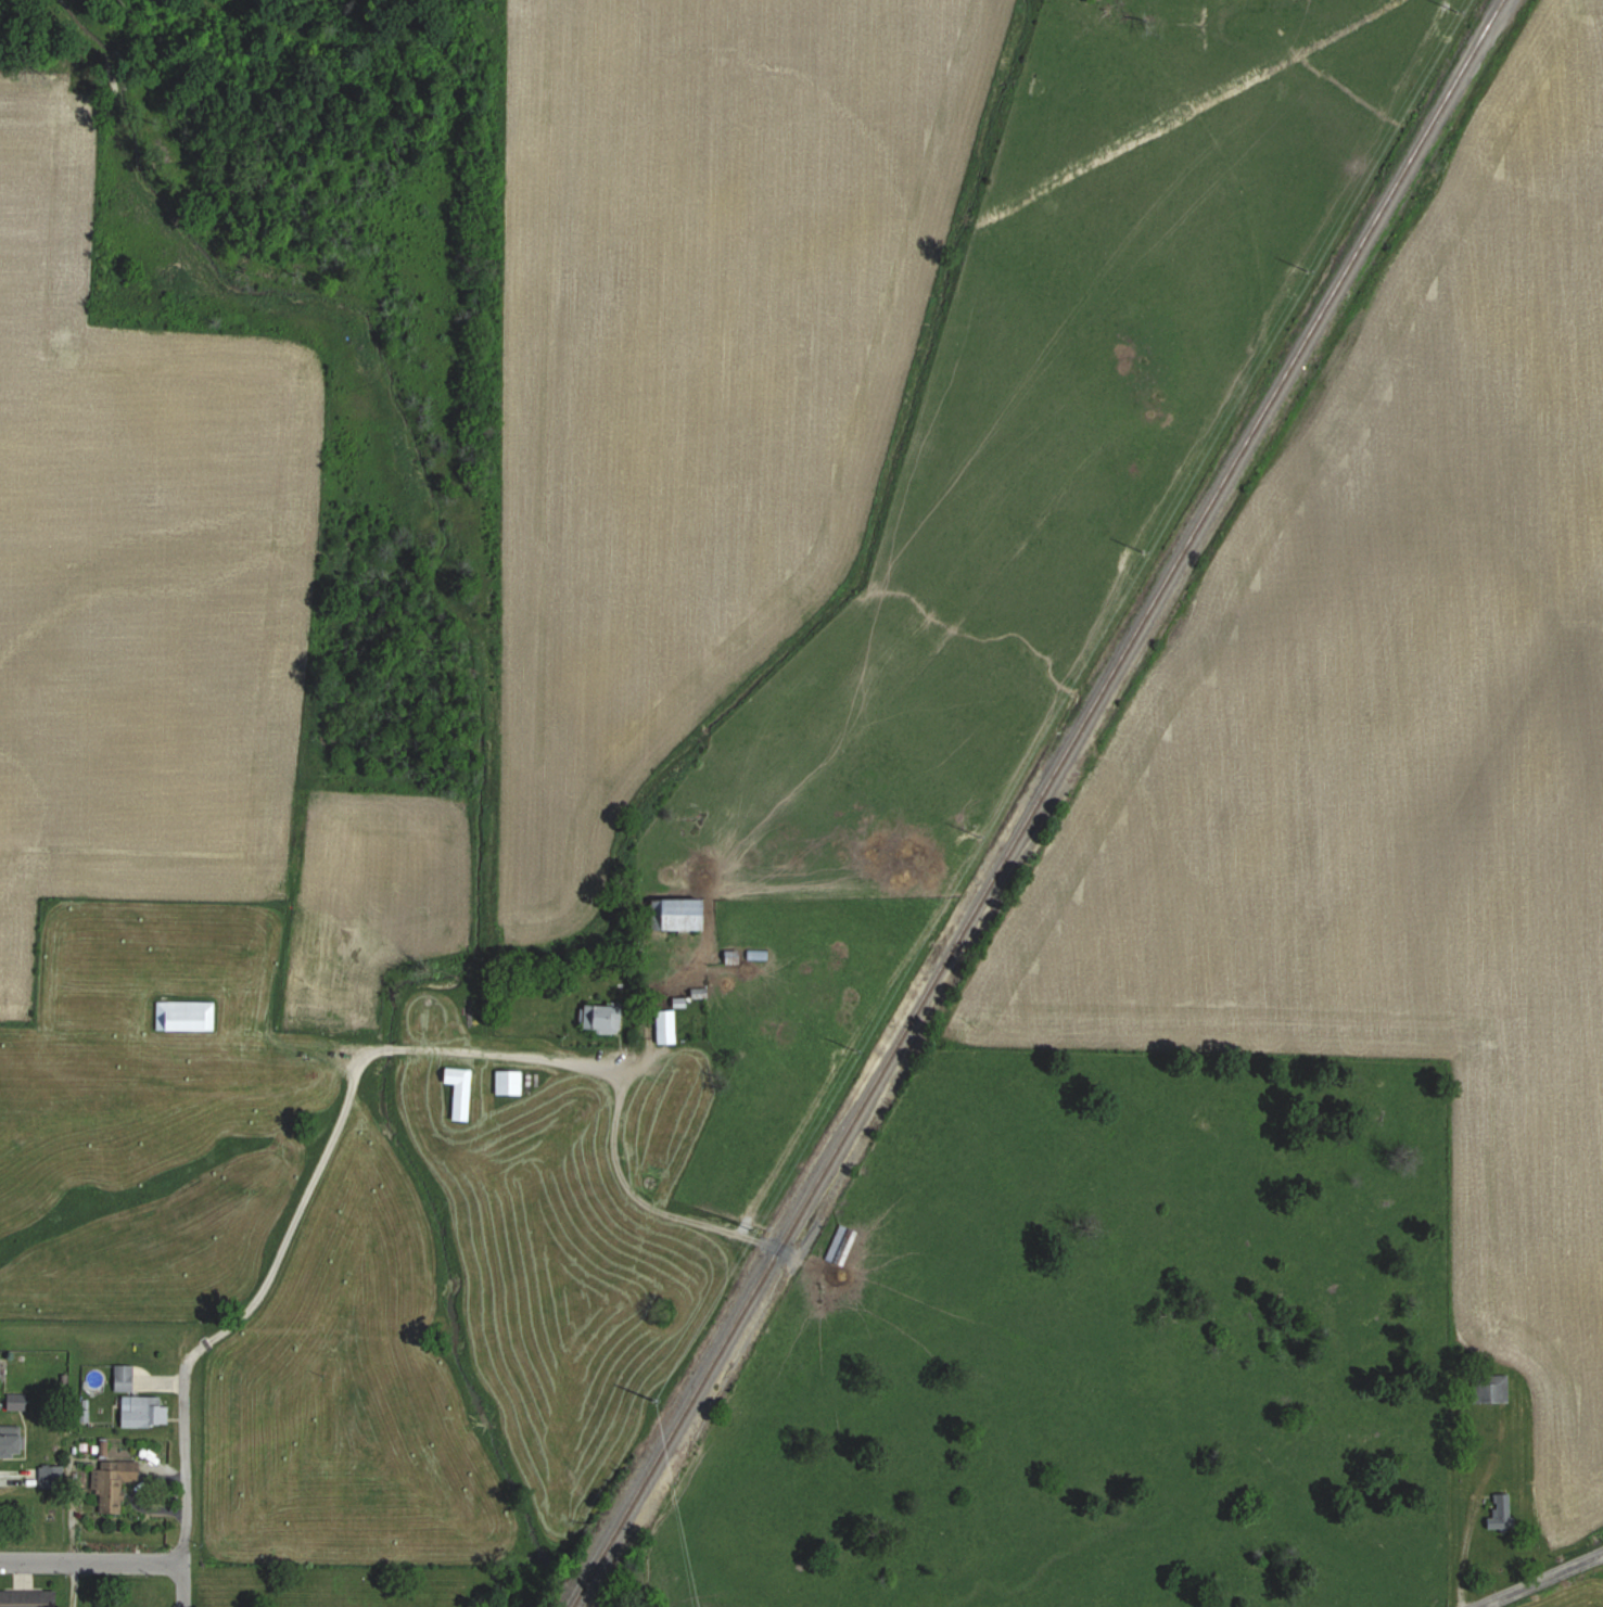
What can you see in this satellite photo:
railway: (1035, 802)
building: (686, 914)
building: (190, 1016)
building: (605, 1018)
building: (671, 1025)
building: (512, 1082)
building: (465, 1092)
road: (349, 1098)
building: (845, 1243)
building: (1, 1366)
building: (127, 1377)
building: (1499, 1388)
building: (142, 1412)
building: (13, 1442)
road: (187, 1482)
building: (115, 1483)
road: (72, 1492)
building: (1500, 1520)
road: (91, 1561)
road: (1542, 1581)
building: (29, 1598)

